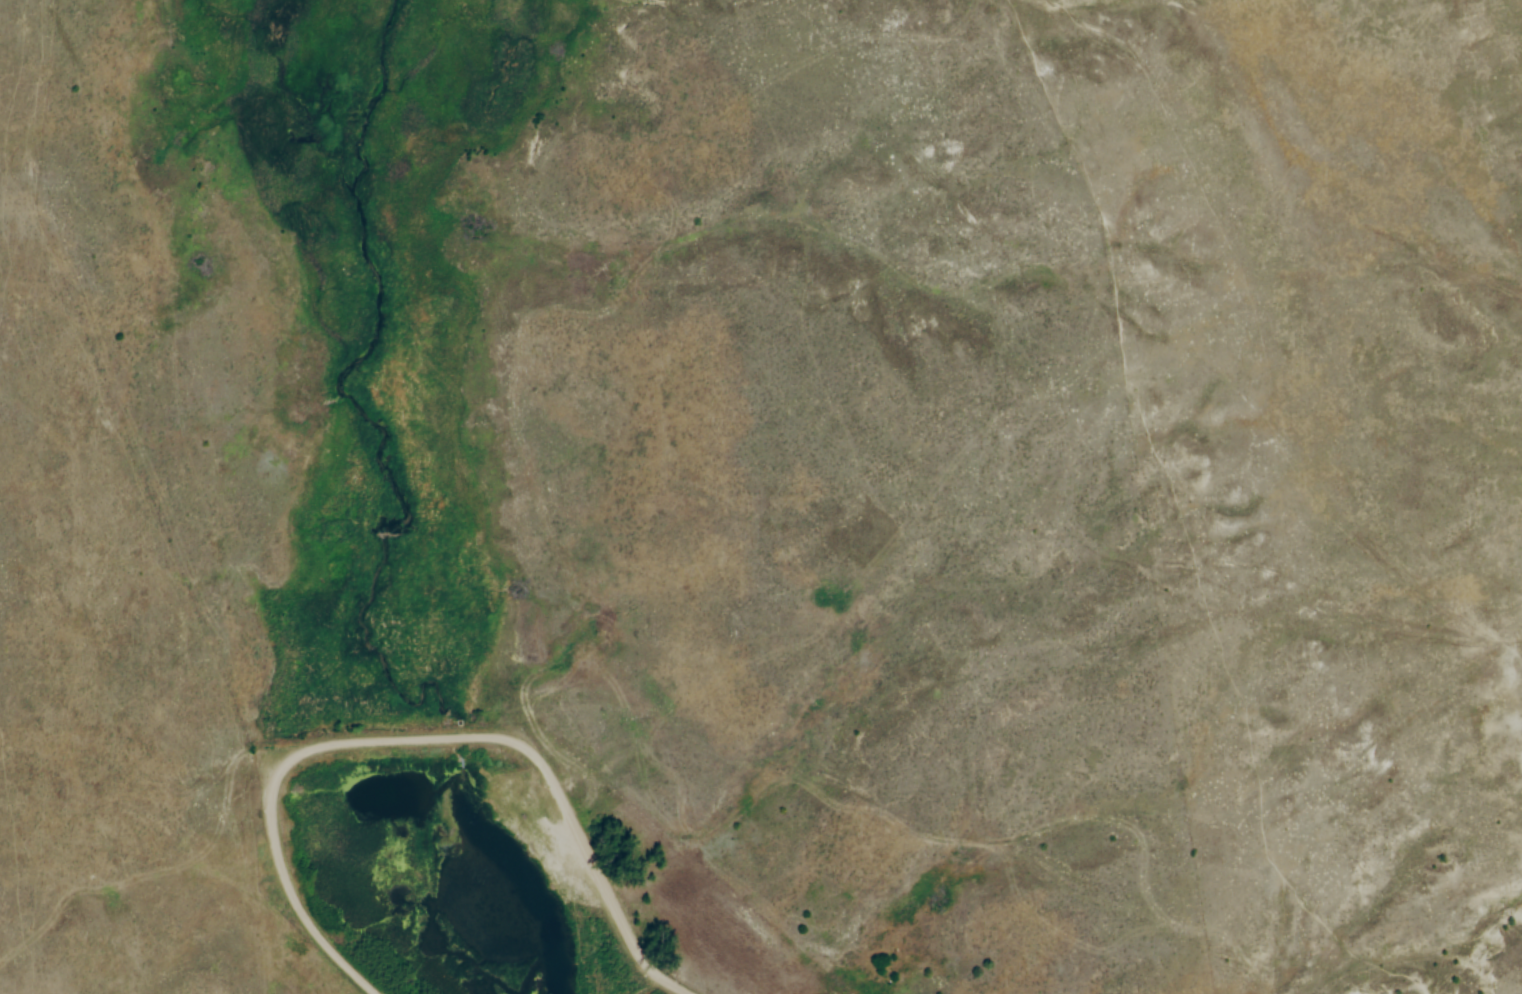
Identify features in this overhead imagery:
road: (428, 737)
park: (494, 868)

